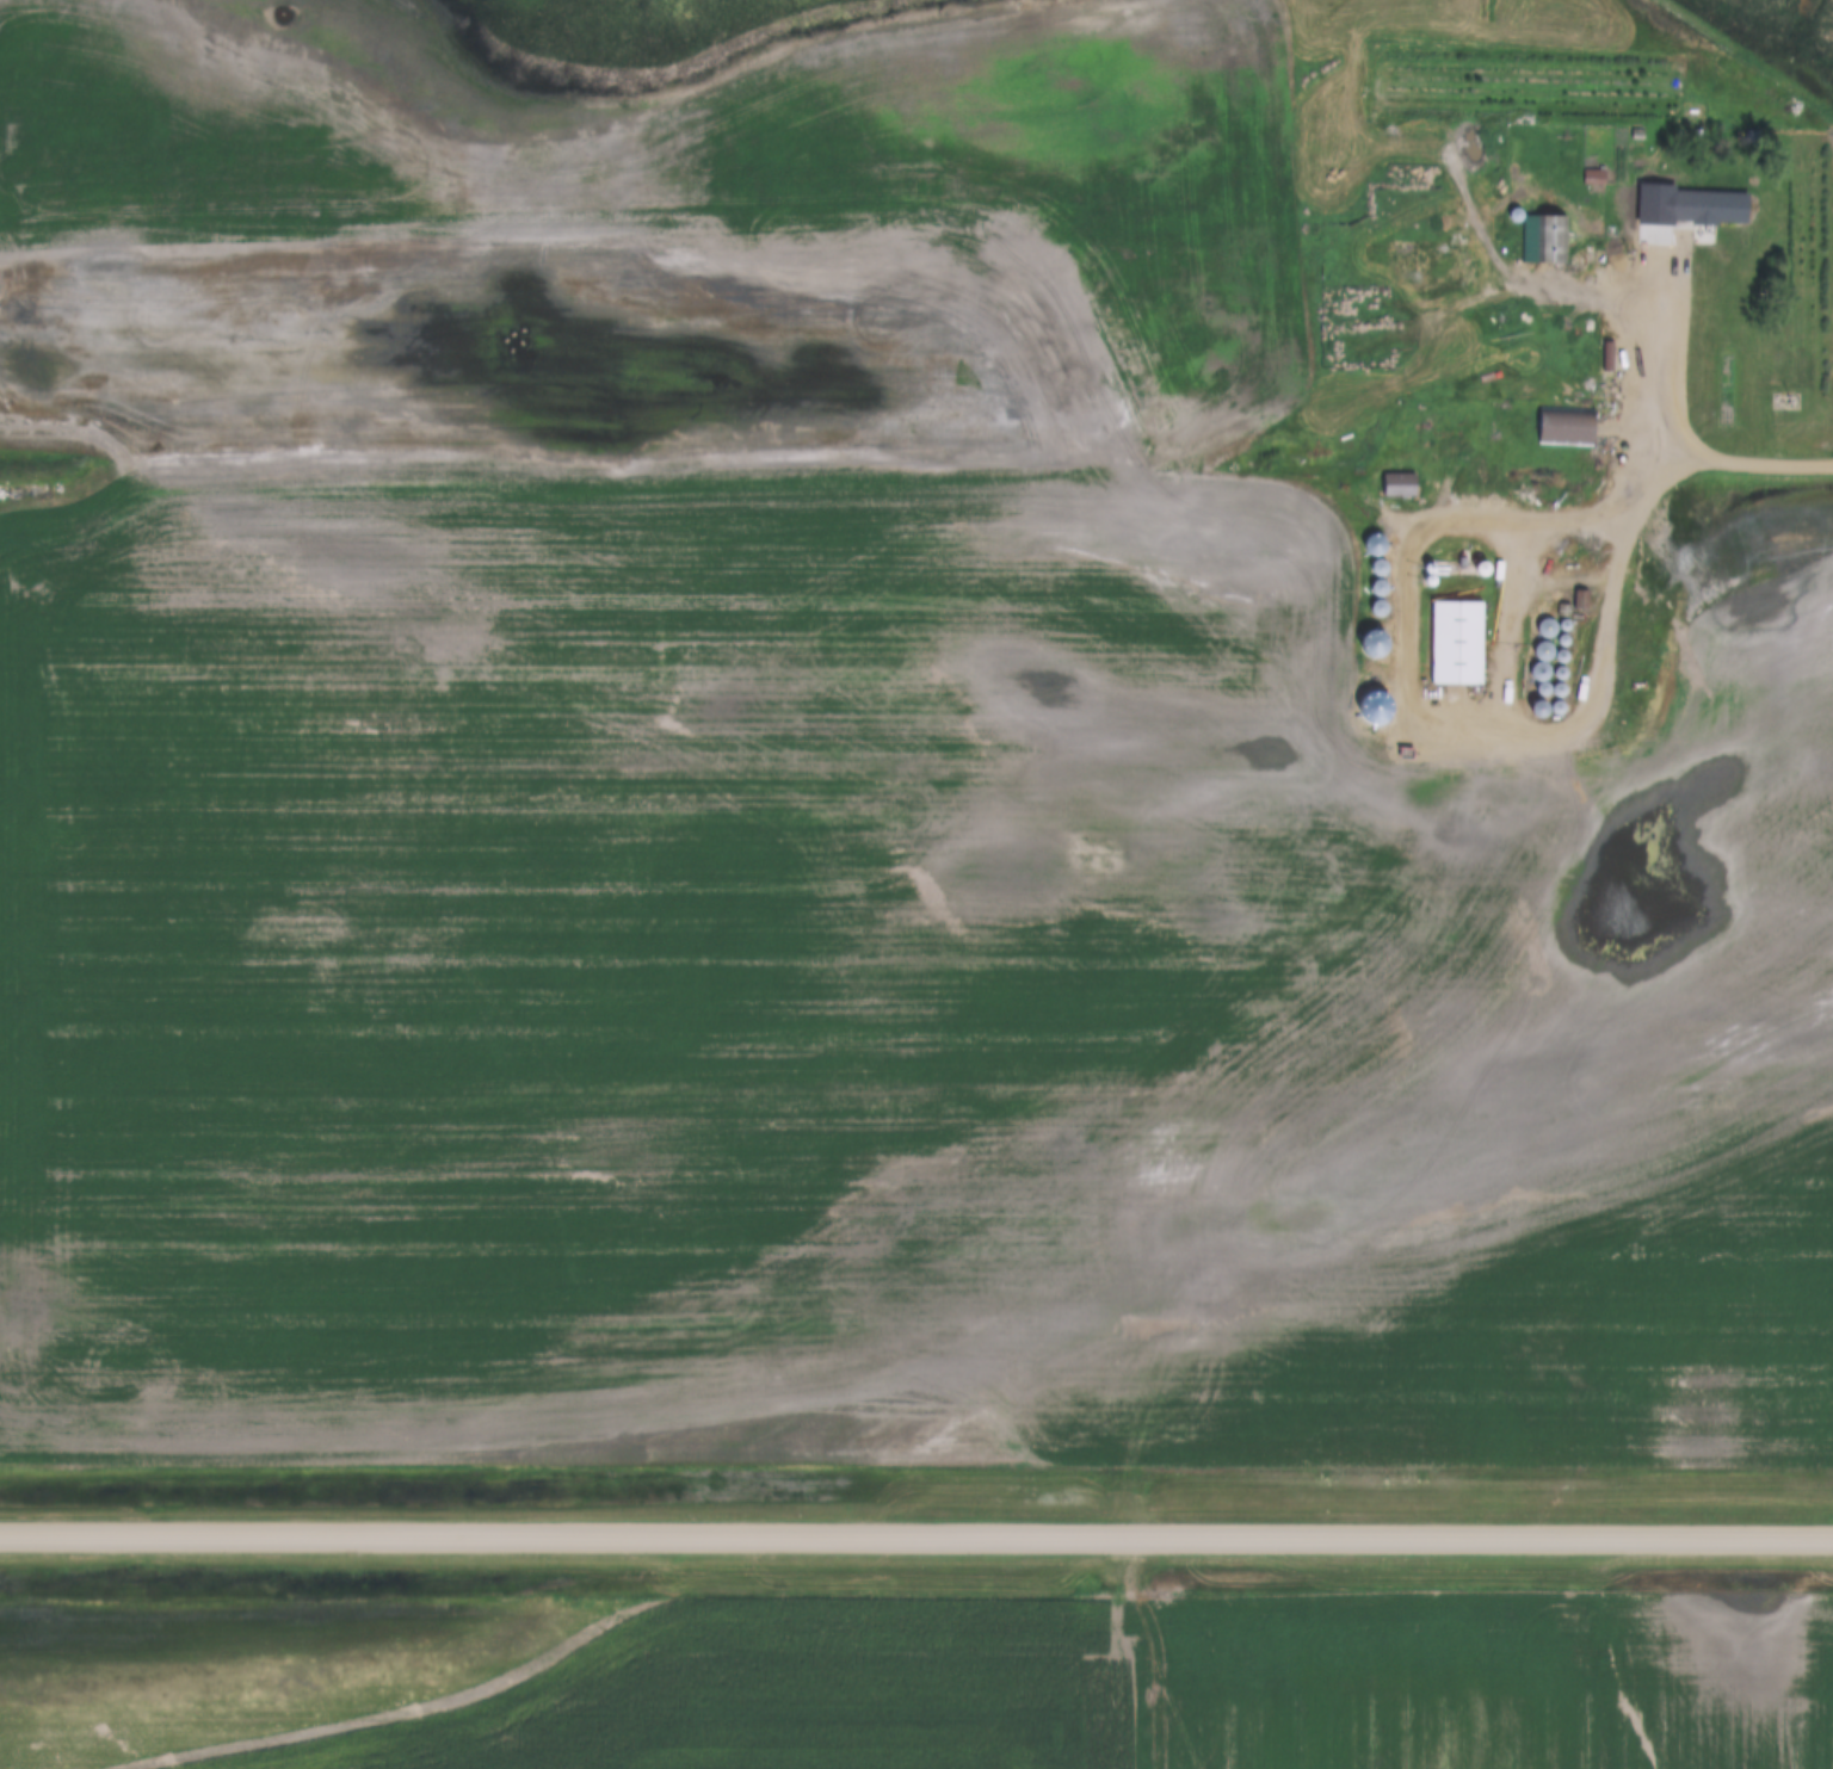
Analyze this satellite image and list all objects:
building: (1596, 179)
building: (1712, 211)
building: (1545, 241)
road: (1514, 295)
road: (1665, 420)
building: (1568, 428)
building: (1401, 487)
building: (1613, 493)
road: (1579, 517)
building: (1382, 546)
building: (1381, 571)
building: (1431, 577)
road: (1560, 577)
building: (1380, 590)
building: (1580, 601)
building: (1380, 611)
road: (1510, 621)
building: (1458, 645)
road: (1500, 729)
road: (916, 1535)

